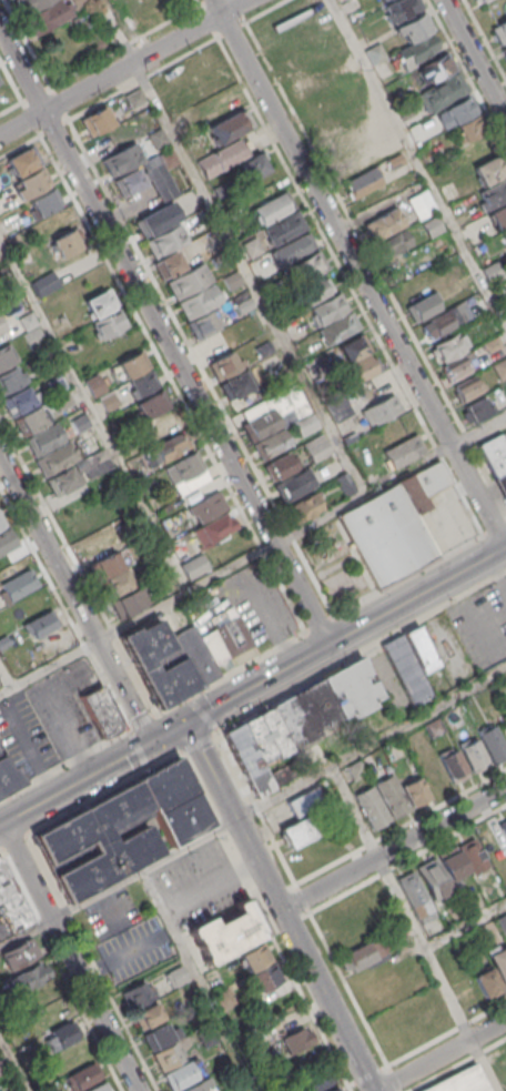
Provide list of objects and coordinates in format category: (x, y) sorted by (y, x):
building: (381, 0)
building: (479, 0)
building: (78, 2)
road: (202, 2)
building: (29, 6)
building: (405, 7)
building: (49, 17)
building: (413, 27)
building: (499, 31)
building: (416, 50)
building: (504, 51)
building: (374, 52)
road: (37, 59)
road: (99, 59)
road: (175, 59)
road: (474, 60)
road: (123, 67)
building: (382, 69)
building: (434, 70)
road: (466, 74)
road: (11, 81)
building: (307, 83)
building: (443, 91)
building: (134, 98)
building: (461, 109)
building: (97, 121)
building: (230, 125)
building: (470, 128)
building: (156, 138)
building: (340, 141)
building: (221, 156)
building: (168, 158)
building: (122, 159)
building: (394, 160)
building: (23, 161)
building: (351, 161)
road: (418, 163)
building: (255, 164)
building: (488, 169)
building: (162, 181)
building: (131, 182)
building: (362, 182)
building: (31, 184)
building: (219, 190)
building: (493, 193)
building: (43, 203)
building: (421, 204)
building: (271, 209)
building: (499, 216)
building: (159, 218)
building: (9, 224)
building: (383, 224)
building: (431, 225)
building: (282, 229)
building: (505, 229)
building: (505, 239)
building: (166, 240)
building: (65, 242)
building: (392, 244)
road: (231, 246)
building: (251, 246)
building: (294, 248)
building: (169, 265)
building: (305, 267)
road: (358, 272)
building: (231, 280)
building: (189, 281)
building: (307, 293)
building: (199, 300)
building: (100, 303)
building: (243, 304)
building: (423, 306)
building: (326, 309)
building: (61, 317)
building: (28, 320)
building: (439, 322)
building: (108, 324)
building: (203, 324)
building: (2, 327)
building: (336, 329)
building: (32, 337)
road: (164, 337)
building: (490, 343)
building: (353, 347)
building: (446, 347)
building: (263, 348)
building: (7, 356)
building: (44, 357)
building: (133, 364)
building: (225, 364)
building: (458, 367)
building: (499, 367)
building: (358, 370)
building: (10, 378)
building: (143, 383)
building: (239, 383)
building: (94, 384)
building: (55, 385)
building: (467, 388)
building: (18, 401)
building: (62, 401)
building: (108, 401)
building: (294, 401)
building: (151, 405)
building: (477, 407)
building: (338, 408)
building: (382, 408)
road: (93, 416)
building: (30, 421)
building: (80, 423)
building: (163, 424)
building: (260, 424)
building: (304, 424)
building: (397, 428)
building: (43, 438)
building: (270, 443)
building: (316, 446)
building: (164, 448)
building: (403, 451)
building: (55, 457)
building: (92, 458)
building: (496, 458)
building: (188, 465)
building: (277, 467)
building: (61, 481)
building: (343, 482)
building: (295, 483)
building: (208, 505)
building: (305, 507)
building: (1, 519)
building: (83, 524)
building: (393, 525)
building: (212, 531)
building: (7, 539)
road: (252, 555)
building: (11, 563)
building: (104, 565)
building: (193, 565)
building: (117, 583)
building: (18, 584)
road: (257, 598)
road: (75, 600)
building: (128, 603)
road: (331, 617)
building: (42, 623)
building: (231, 630)
road: (346, 635)
building: (3, 640)
building: (418, 648)
road: (361, 650)
building: (194, 654)
building: (158, 661)
building: (405, 668)
road: (6, 677)
building: (350, 689)
building: (102, 711)
road: (202, 714)
building: (301, 716)
building: (452, 716)
road: (142, 720)
traffic signals: (185, 723)
building: (432, 727)
road: (199, 741)
traffic signals: (151, 743)
building: (492, 743)
building: (271, 746)
road: (140, 748)
building: (473, 755)
building: (249, 758)
road: (64, 764)
building: (453, 765)
building: (354, 769)
road: (92, 774)
building: (7, 777)
building: (415, 790)
road: (104, 794)
building: (391, 796)
building: (174, 801)
building: (305, 802)
building: (372, 806)
road: (253, 809)
road: (399, 825)
building: (503, 826)
building: (298, 831)
building: (101, 840)
road: (13, 841)
road: (393, 848)
road: (0, 850)
building: (472, 855)
road: (407, 857)
road: (283, 862)
building: (452, 862)
building: (433, 879)
road: (209, 885)
building: (416, 896)
building: (11, 905)
road: (279, 907)
building: (503, 922)
road: (465, 925)
road: (414, 928)
building: (229, 933)
building: (20, 953)
building: (364, 953)
building: (257, 956)
road: (71, 957)
building: (499, 962)
building: (178, 976)
building: (30, 977)
building: (265, 977)
road: (198, 980)
building: (486, 981)
road: (348, 989)
building: (139, 994)
building: (224, 998)
building: (148, 1014)
road: (446, 1032)
building: (63, 1034)
building: (159, 1036)
building: (209, 1037)
building: (298, 1039)
road: (441, 1054)
building: (169, 1057)
road: (14, 1062)
road: (457, 1064)
building: (182, 1074)
building: (84, 1077)
building: (315, 1080)
building: (461, 1081)
building: (202, 1085)
building: (100, 1087)
building: (51, 1090)
building: (335, 1090)

